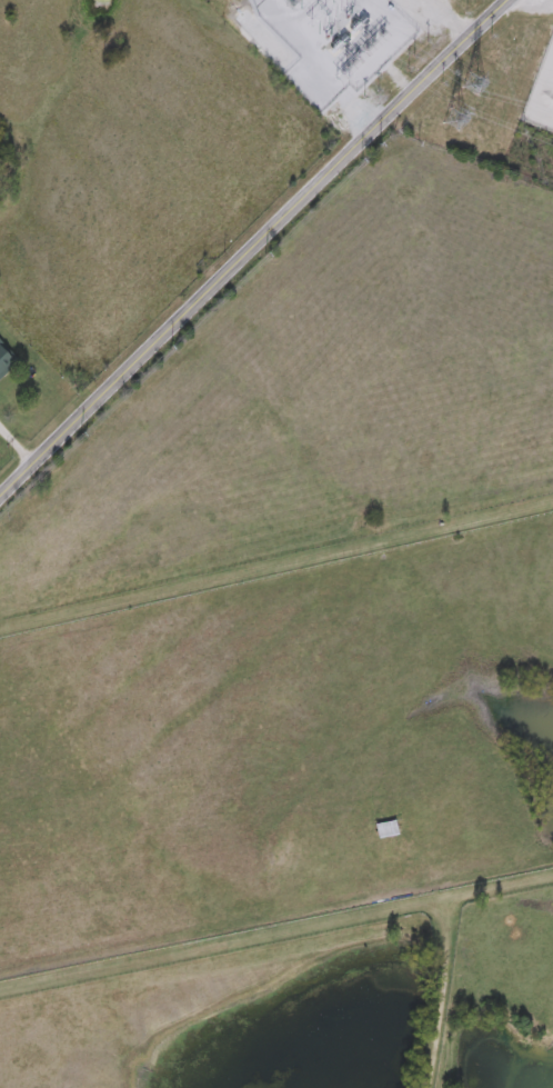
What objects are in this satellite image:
power tower: (292, 0)
road: (445, 18)
power substation: (342, 41)
road: (386, 47)
power tower: (472, 81)
power substation: (542, 91)
power tower: (452, 118)
road: (254, 248)
building: (4, 355)
road: (14, 448)

